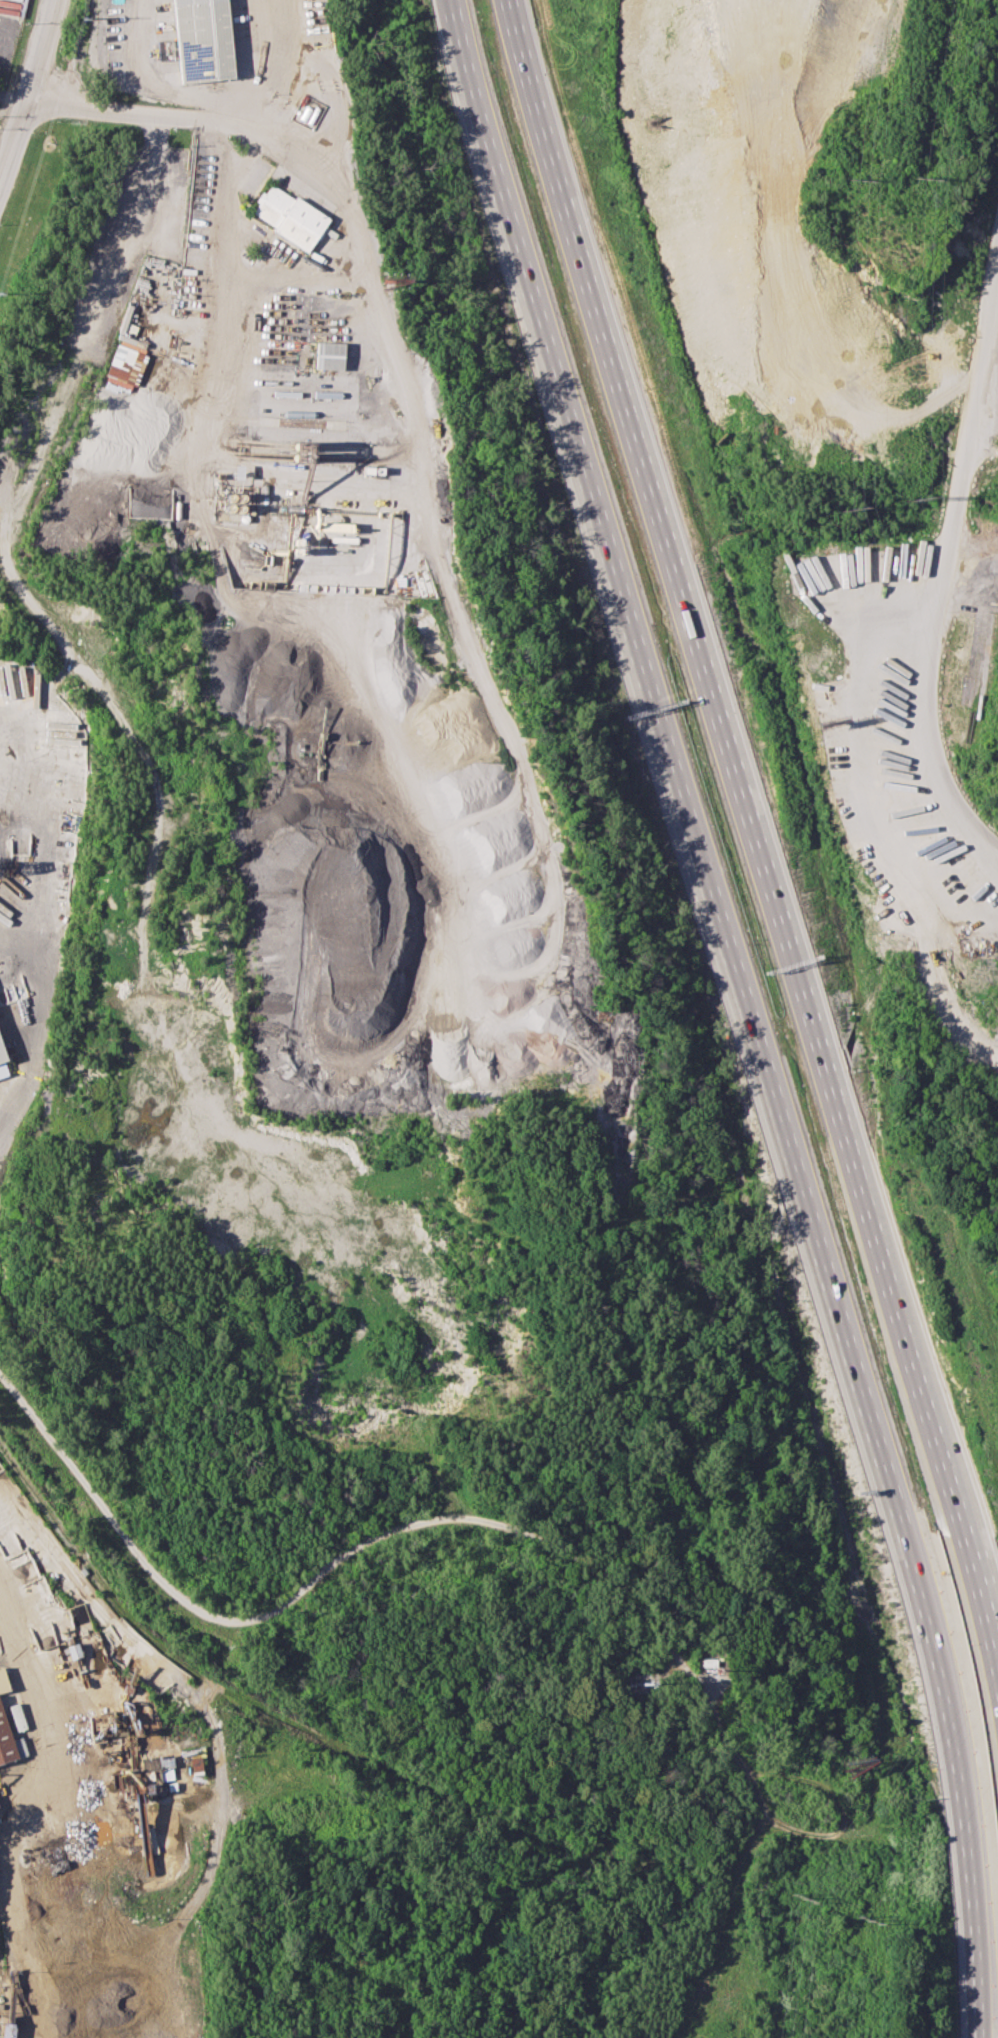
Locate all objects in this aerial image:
power tower: (82, 15)
building: (202, 38)
road: (256, 62)
road: (146, 71)
road: (29, 88)
road: (215, 110)
road: (299, 150)
power tower: (866, 178)
power tower: (925, 178)
road: (209, 201)
building: (289, 216)
power tower: (11, 295)
building: (329, 355)
building: (125, 364)
road: (970, 417)
road: (982, 443)
power tower: (915, 495)
power tower: (859, 506)
road: (927, 721)
road: (871, 815)
road: (759, 836)
road: (745, 1014)
building: (5, 1059)
road: (325, 1569)
road: (25, 1667)
building: (3, 1680)
road: (995, 1680)
road: (995, 1691)
railway: (271, 1709)
building: (9, 1743)
road: (876, 1781)
road: (810, 1782)
power tower: (806, 1896)
power tower: (867, 1920)
road: (720, 1926)
building: (6, 2030)

